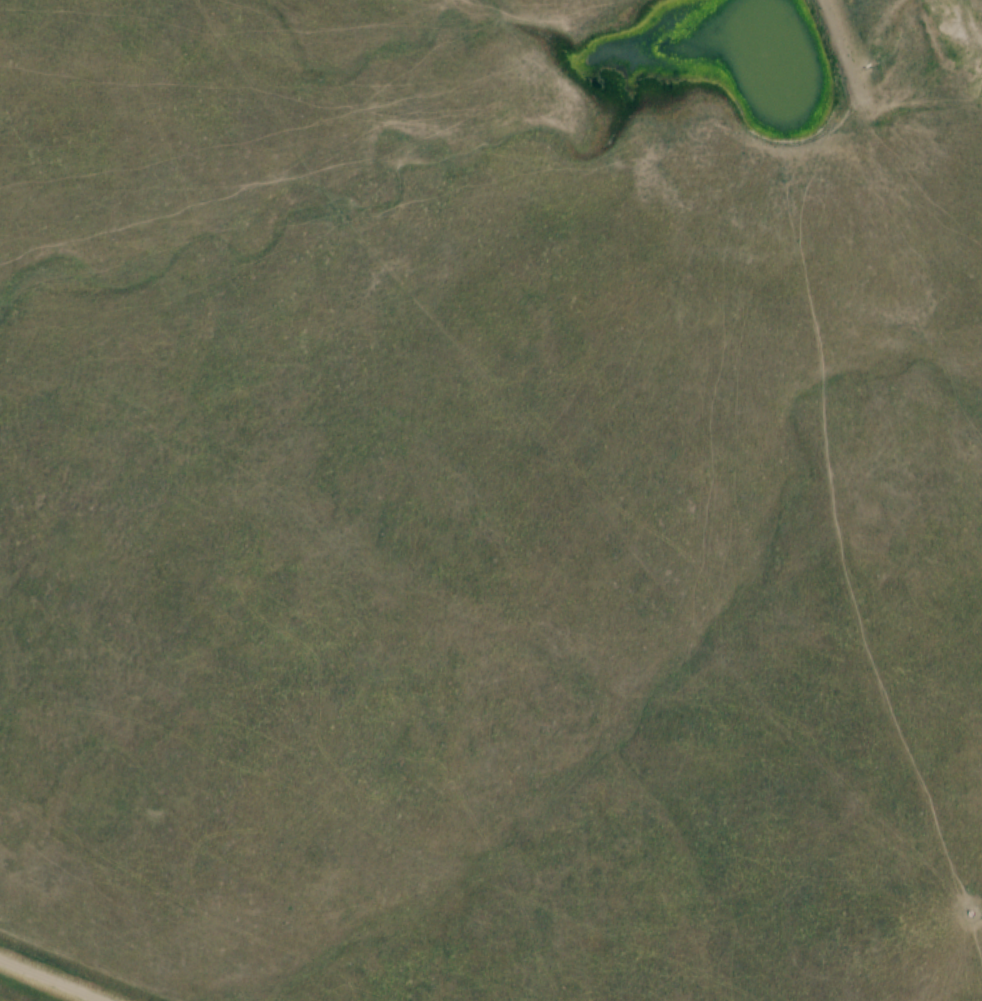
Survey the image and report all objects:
road: (44, 983)

